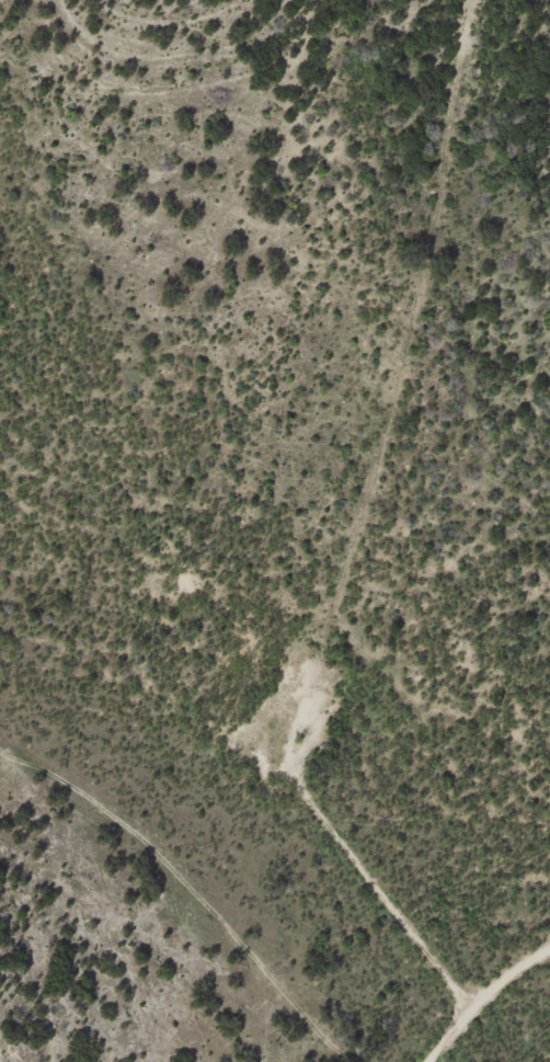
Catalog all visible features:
road: (501, 1009)

